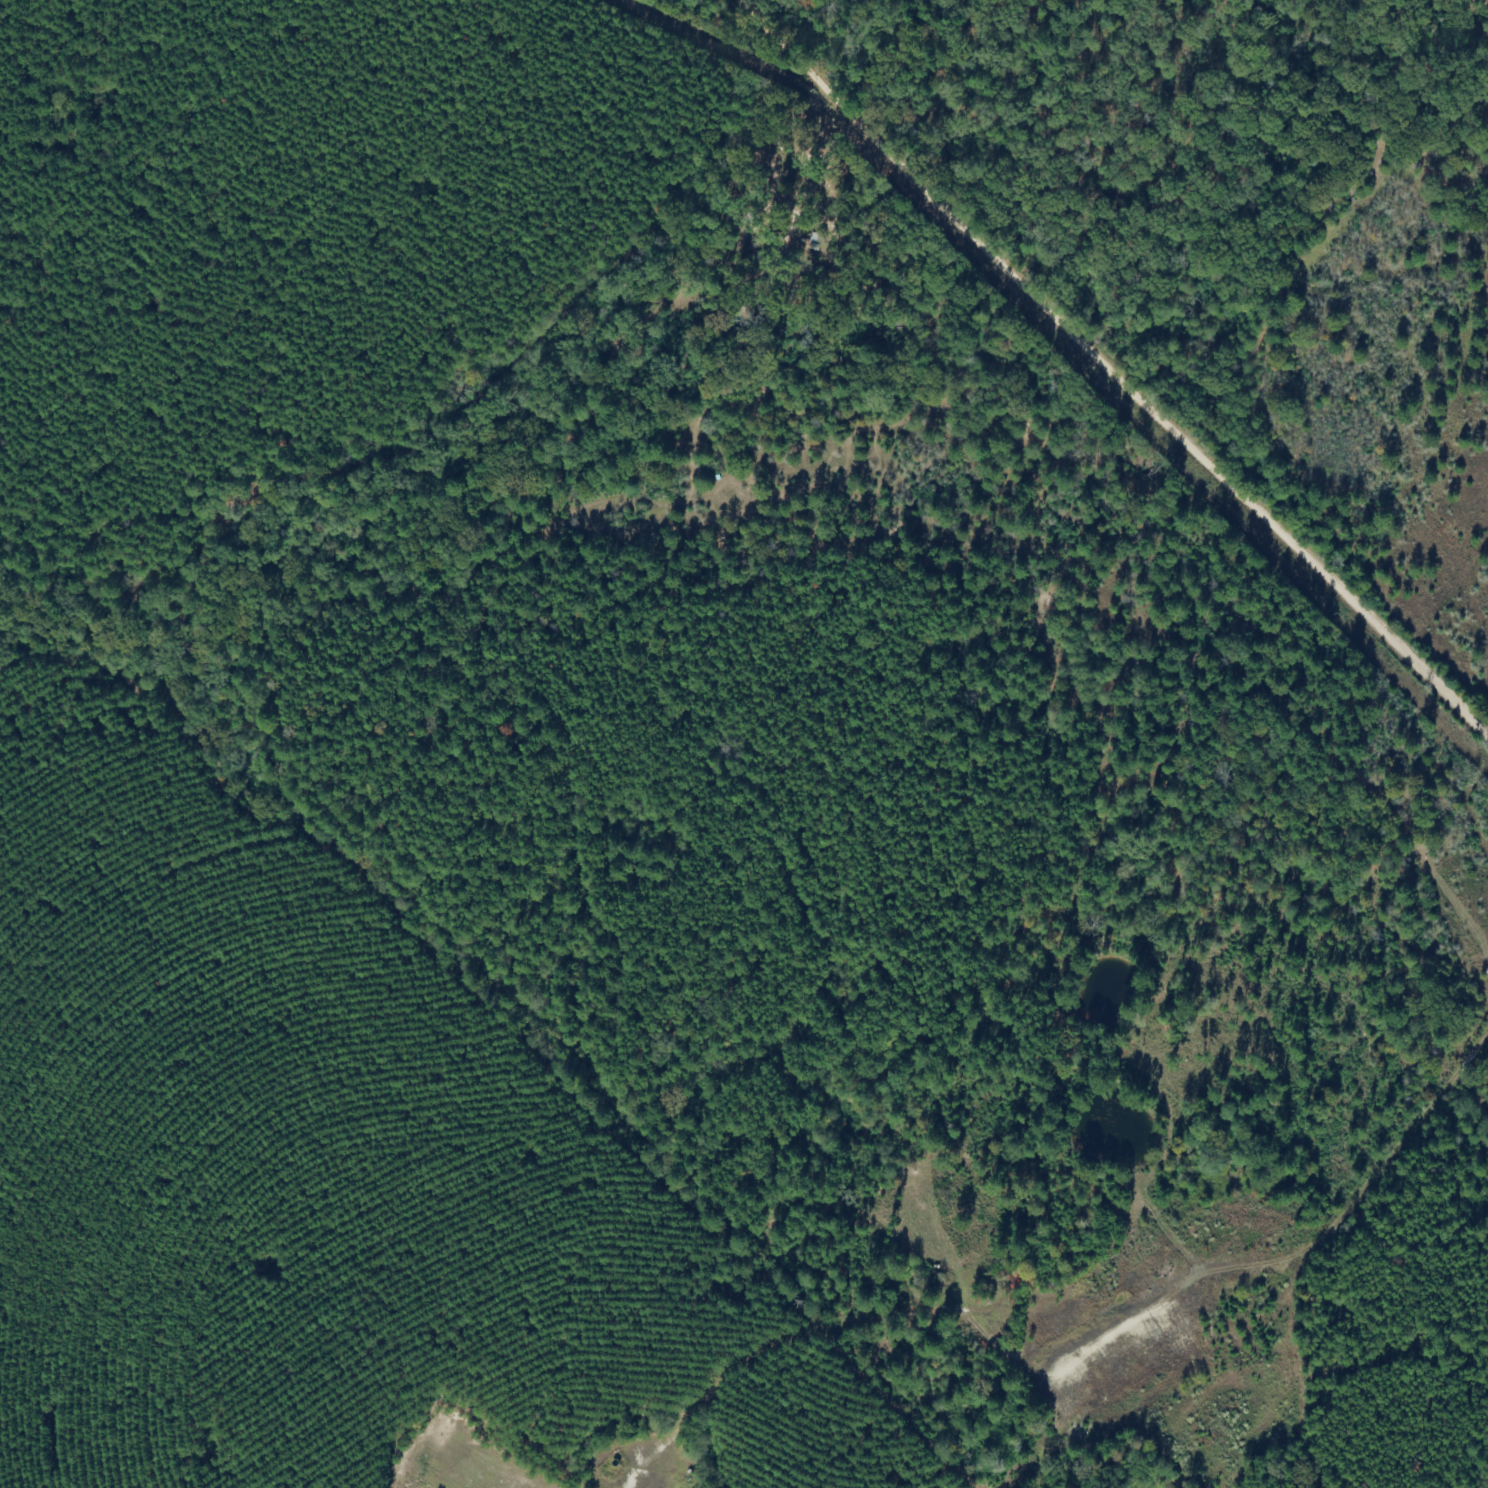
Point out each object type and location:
road: (1106, 379)
road: (1386, 1130)

